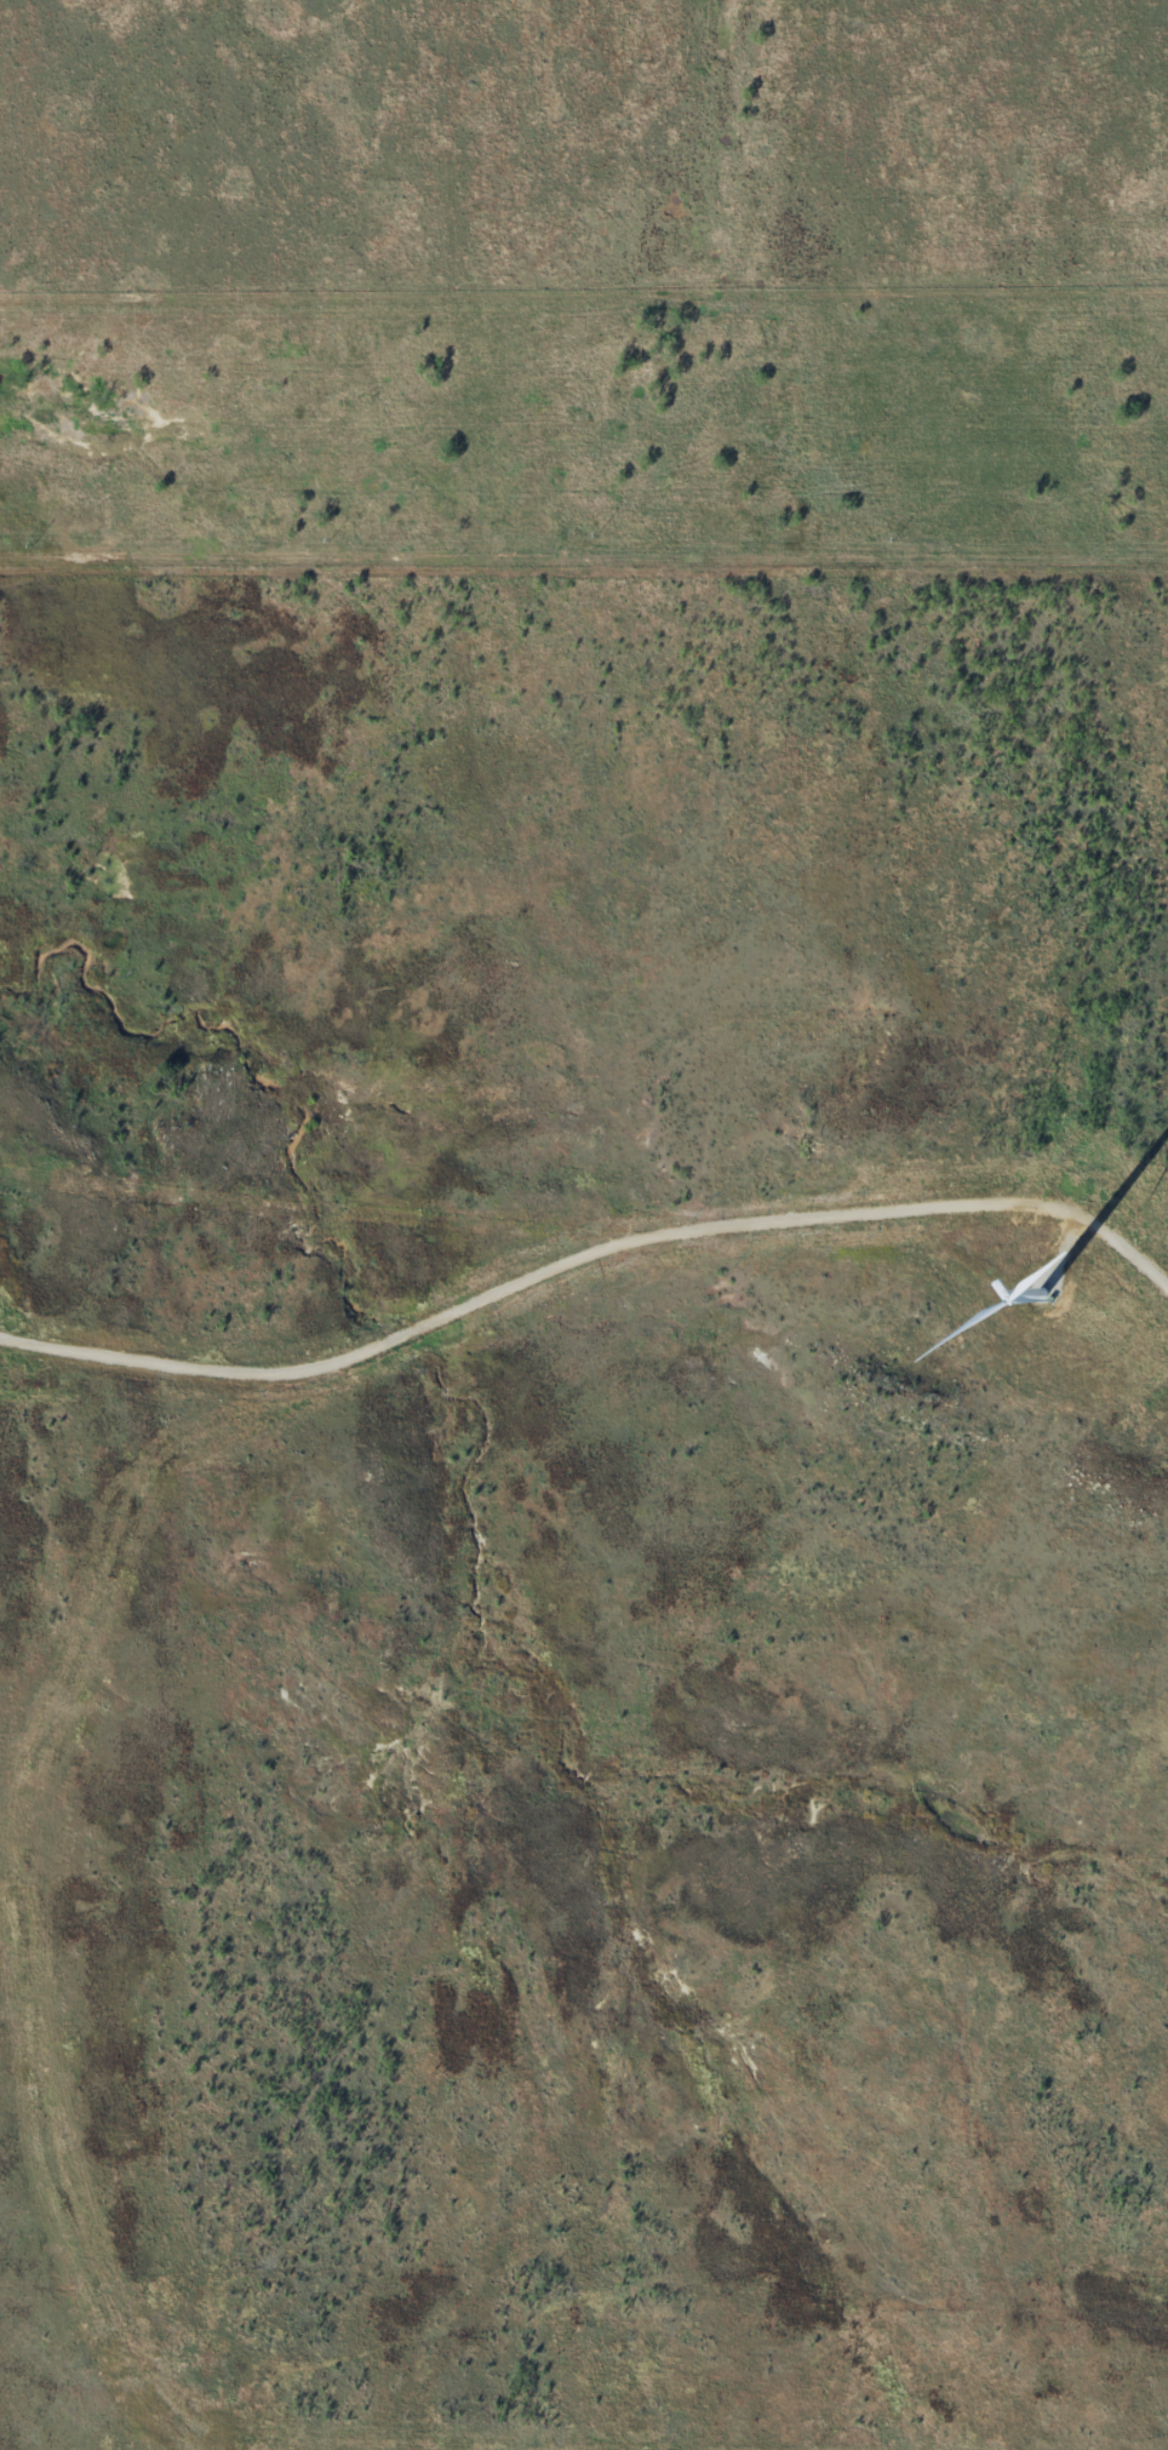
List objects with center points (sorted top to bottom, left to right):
wind turbine: (1044, 1294)
road: (668, 2320)

